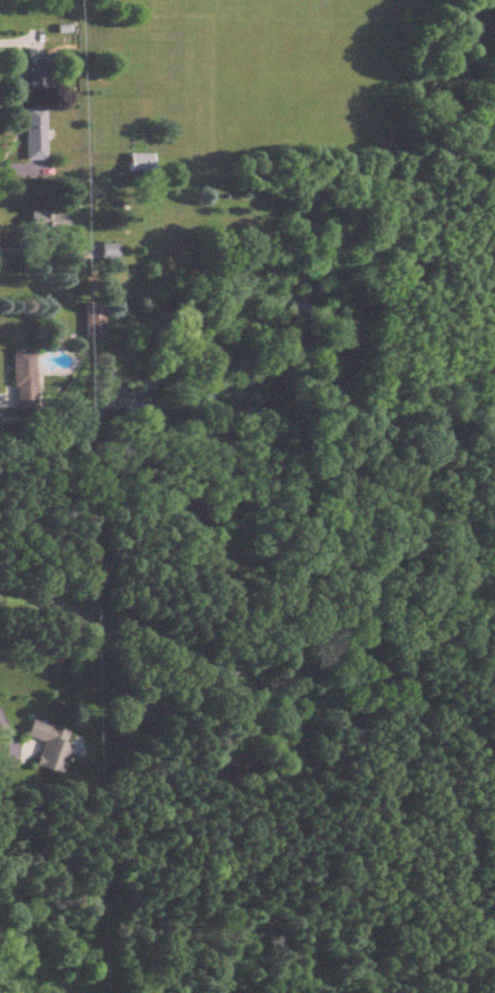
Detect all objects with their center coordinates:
building: (31, 72)
building: (31, 134)
building: (135, 163)
building: (41, 220)
building: (100, 252)
building: (88, 320)
building: (19, 380)
building: (46, 746)

